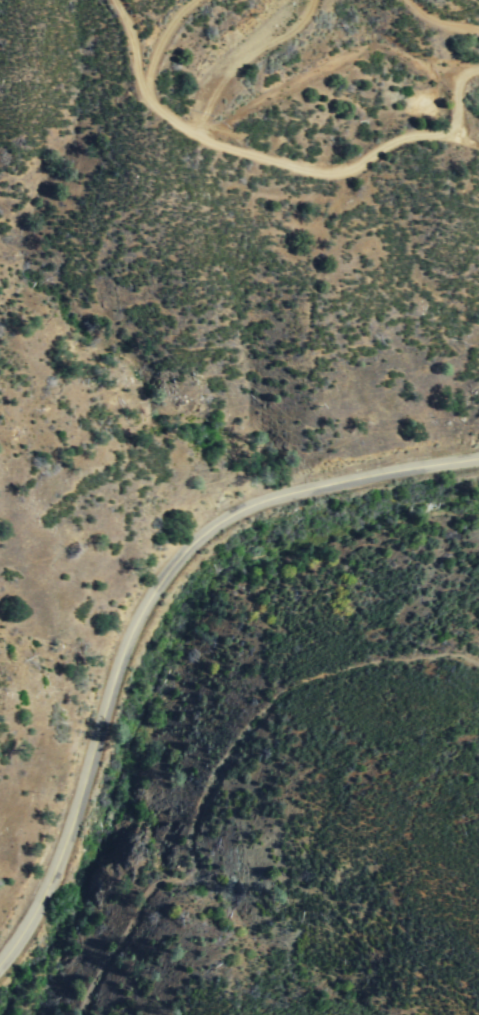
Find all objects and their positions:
road: (271, 158)
road: (150, 610)

